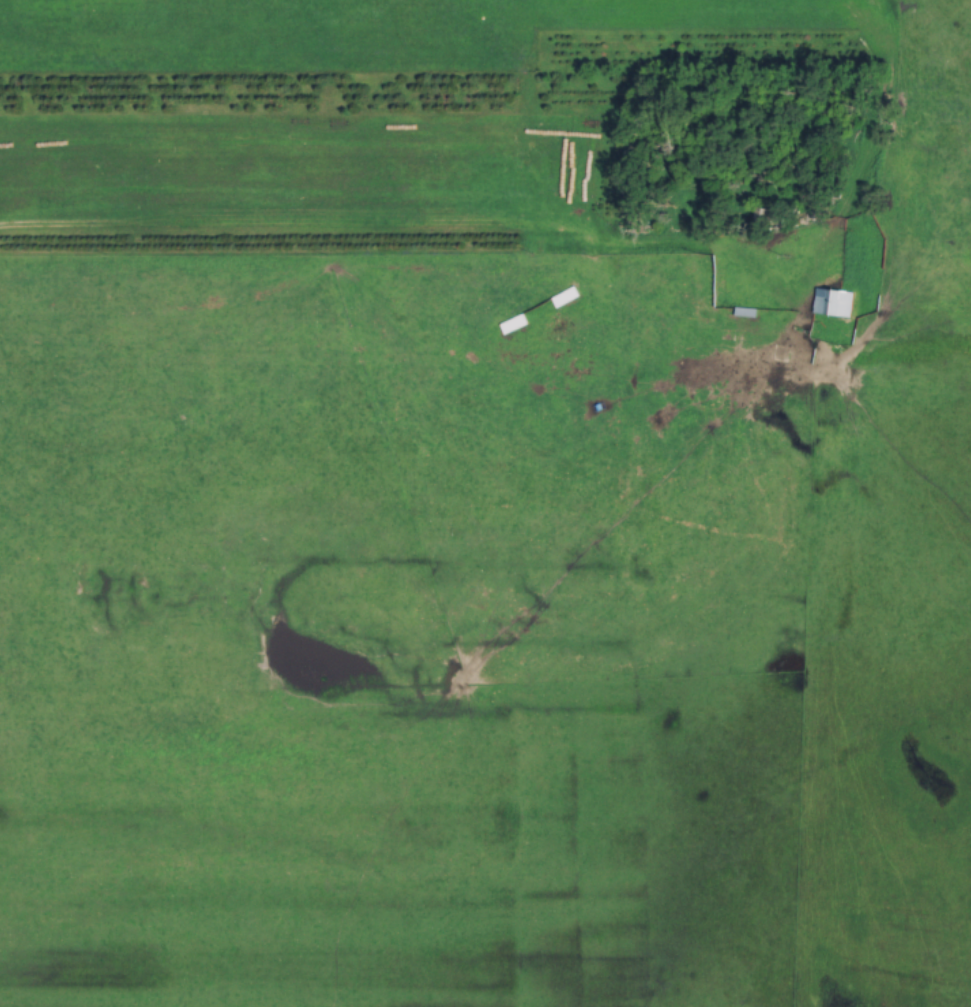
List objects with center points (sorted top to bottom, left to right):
road: (380, 250)
building: (831, 303)
building: (743, 312)

